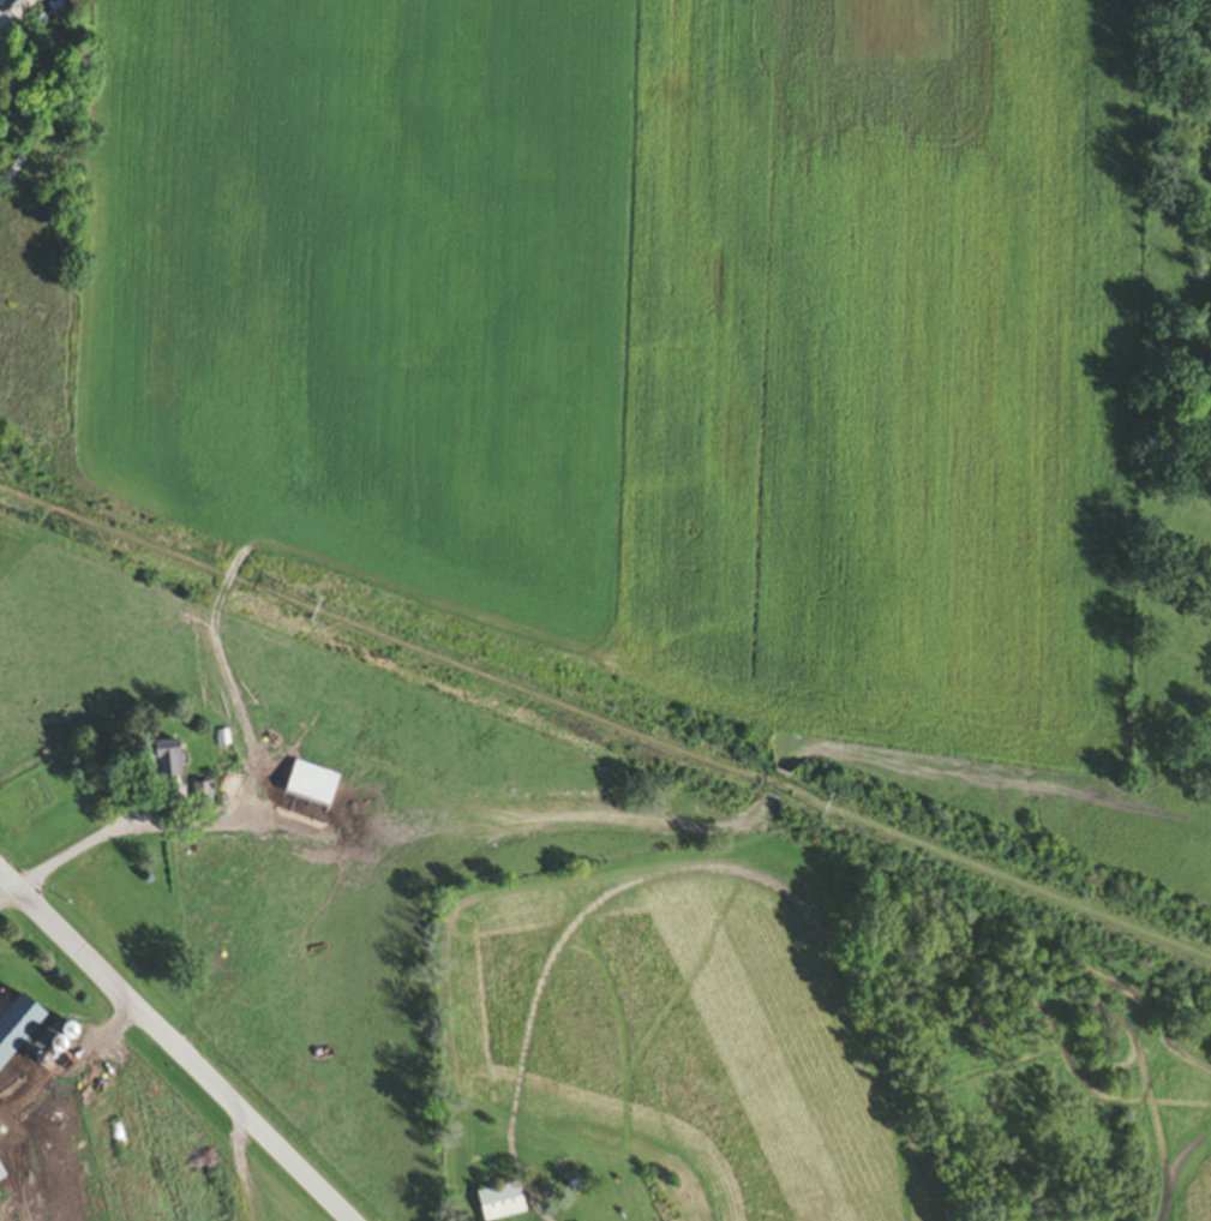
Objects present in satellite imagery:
building: (12, 4)
road: (23, 127)
power tower: (318, 615)
building: (167, 764)
road: (993, 783)
building: (311, 786)
building: (203, 798)
power tower: (828, 812)
road: (120, 825)
road: (440, 836)
building: (16, 1027)
road: (178, 1047)
building: (188, 1114)
building: (1, 1177)
building: (502, 1204)

